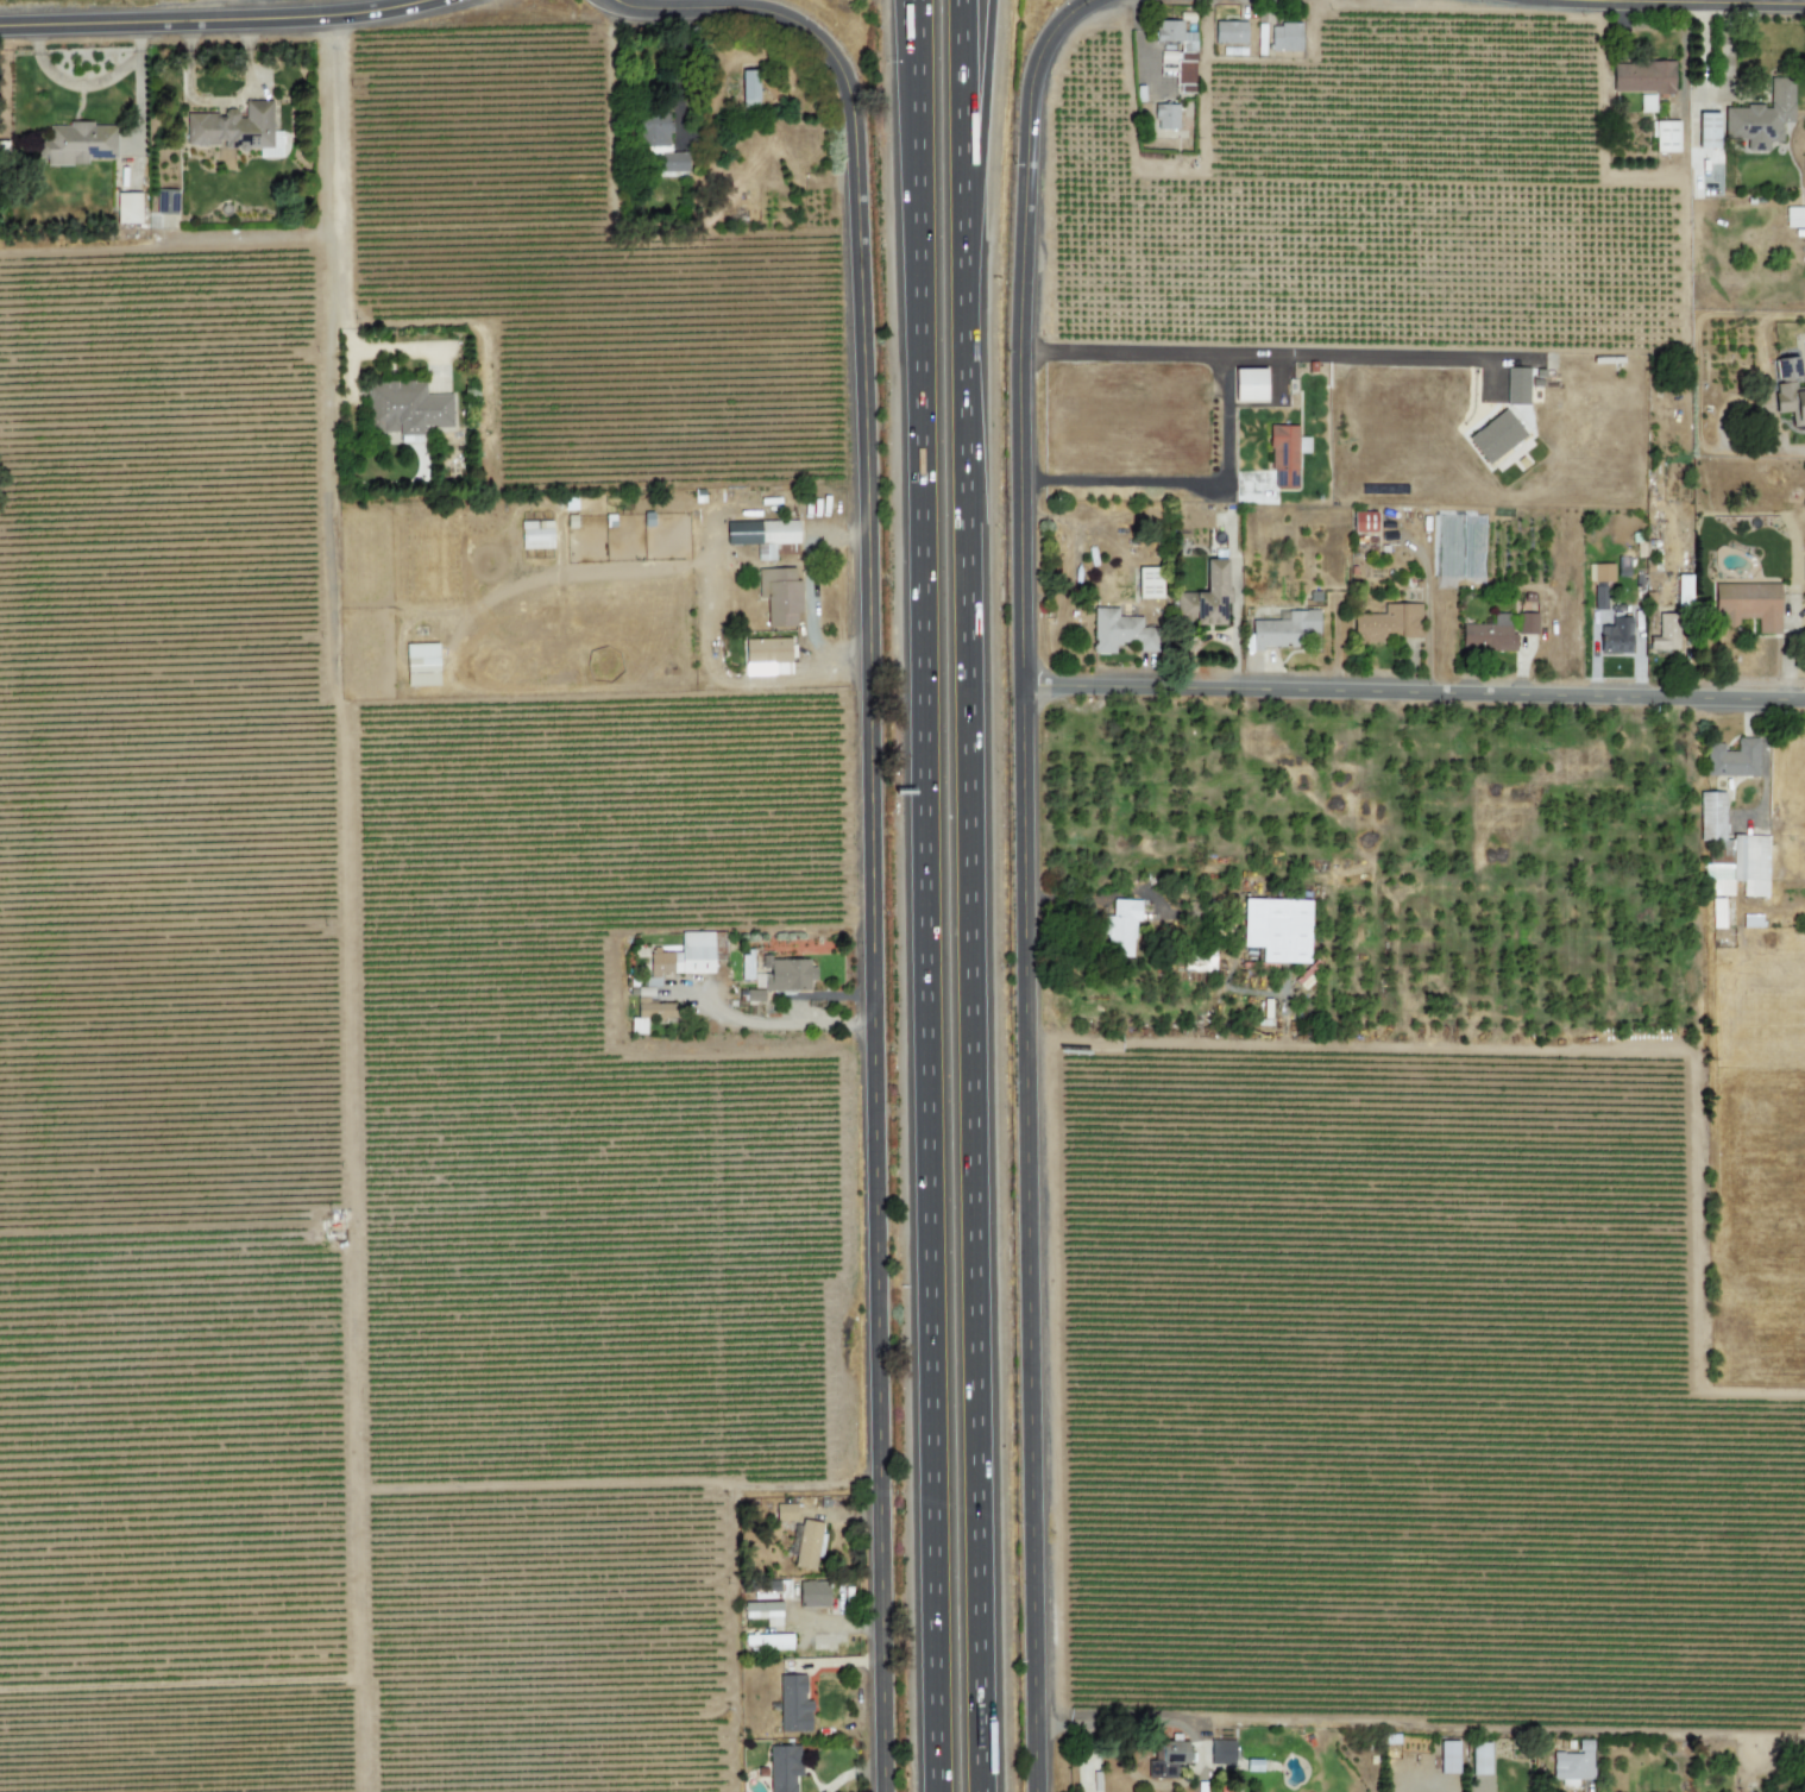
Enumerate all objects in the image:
road: (1696, 1)
road: (908, 2)
road: (215, 20)
building: (1228, 32)
road: (1139, 33)
building: (1284, 37)
building: (1178, 51)
road: (1700, 55)
road: (679, 71)
building: (1642, 76)
building: (749, 87)
road: (983, 90)
building: (1646, 102)
building: (1165, 117)
building: (1761, 117)
building: (235, 130)
building: (1707, 130)
building: (1665, 136)
building: (77, 144)
building: (660, 145)
road: (339, 166)
building: (127, 208)
building: (1794, 216)
building: (1786, 367)
building: (1247, 384)
building: (1516, 385)
building: (407, 409)
building: (1495, 436)
road: (1793, 448)
building: (1285, 454)
road: (1125, 485)
building: (1254, 486)
building: (1364, 522)
building: (535, 534)
building: (765, 536)
building: (1599, 572)
building: (1149, 583)
building: (1683, 590)
road: (811, 593)
building: (779, 595)
building: (1205, 597)
building: (1598, 597)
building: (1747, 605)
building: (1388, 623)
building: (1526, 623)
building: (1284, 630)
building: (1119, 631)
building: (1665, 633)
building: (1489, 634)
building: (1615, 636)
building: (767, 656)
road: (1414, 694)
building: (1732, 759)
road: (874, 806)
building: (1711, 820)
building: (1740, 868)
road: (1026, 885)
road: (927, 895)
road: (971, 895)
building: (1120, 928)
building: (1276, 929)
building: (681, 956)
building: (1199, 961)
building: (788, 975)
building: (754, 995)
building: (652, 1005)
road: (787, 1024)
building: (637, 1025)
building: (807, 1545)
building: (813, 1593)
building: (763, 1611)
road: (839, 1623)
building: (767, 1641)
building: (794, 1704)
road: (1112, 1723)
building: (1221, 1752)
building: (1447, 1756)
building: (1168, 1759)
building: (1573, 1762)
building: (784, 1767)

